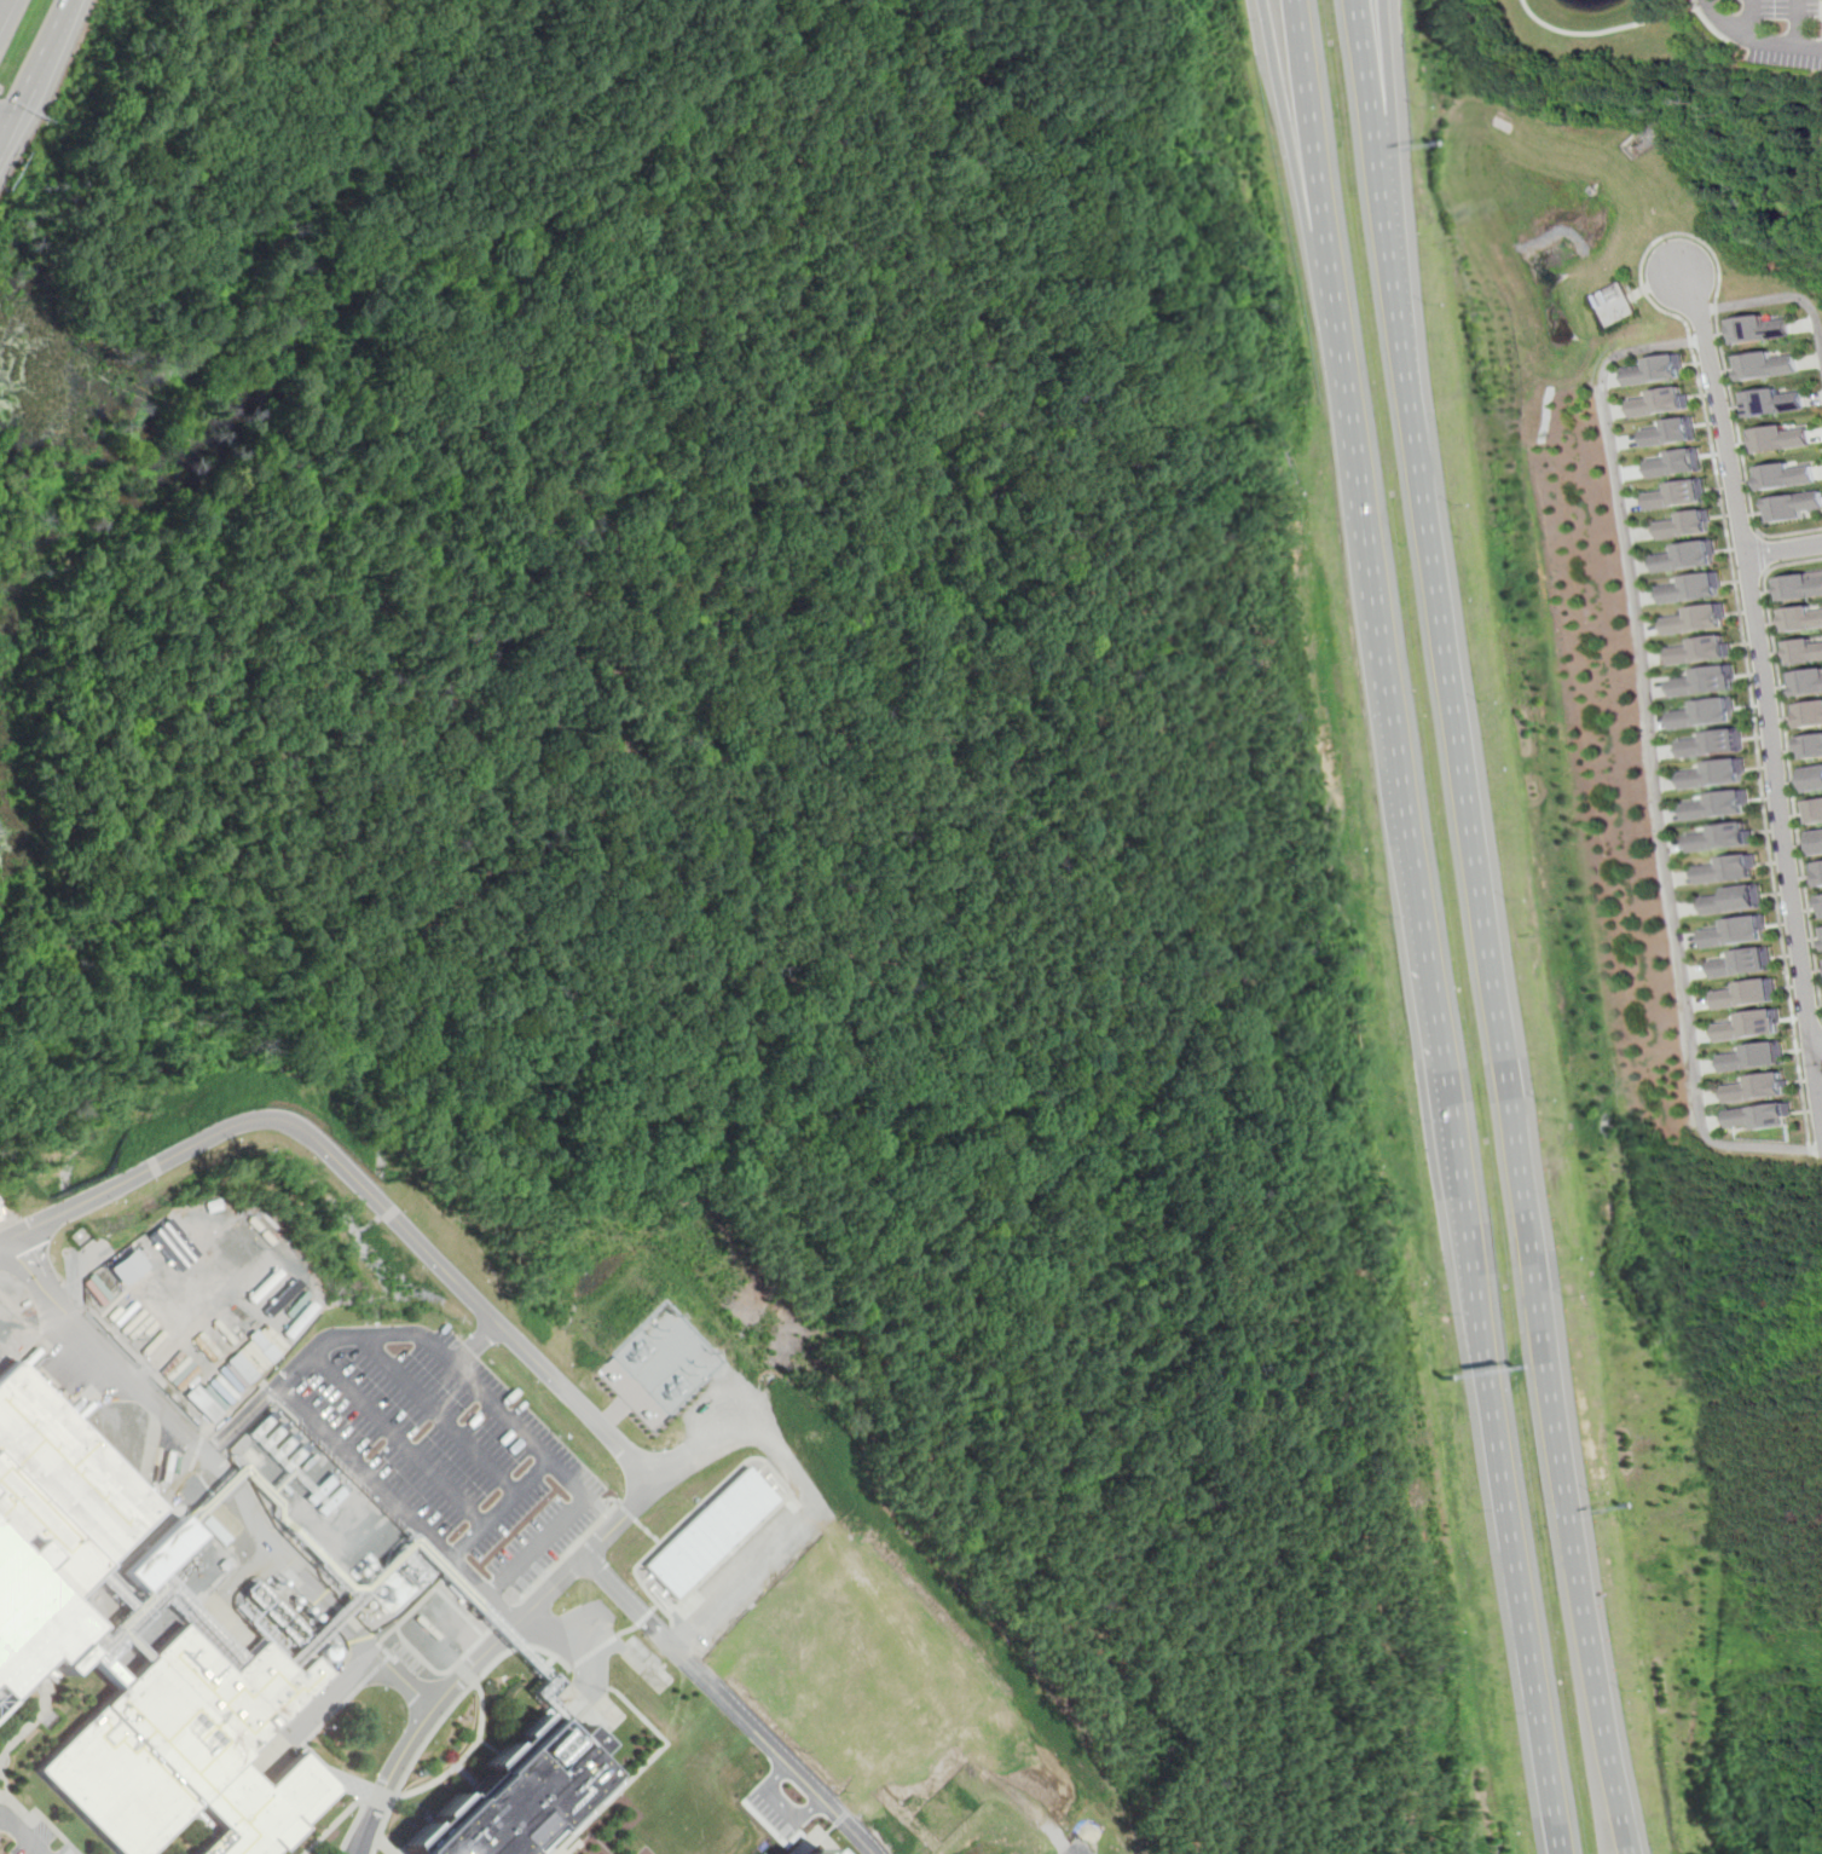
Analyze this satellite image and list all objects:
road: (2, 6)
road: (1724, 18)
road: (1753, 18)
road: (1710, 23)
road: (1798, 23)
parking lot: (1780, 31)
road: (1591, 34)
road: (1780, 45)
parking lot: (1820, 60)
road: (35, 69)
road: (1297, 134)
road: (1313, 134)
road: (1393, 169)
road: (1647, 291)
road: (1768, 302)
building: (1609, 304)
building: (1763, 329)
building: (1768, 365)
building: (1654, 369)
building: (1656, 402)
building: (1776, 402)
building: (1667, 432)
building: (1780, 437)
building: (1671, 462)
road: (1713, 473)
building: (1786, 474)
building: (1672, 493)
building: (1793, 506)
building: (1679, 525)
road: (1781, 547)
road: (1757, 554)
building: (1683, 556)
building: (1798, 585)
building: (1685, 589)
building: (1799, 618)
building: (1691, 619)
building: (1695, 651)
building: (1803, 652)
road: (1392, 672)
building: (1805, 681)
building: (1700, 682)
road: (1760, 692)
building: (1807, 714)
building: (1702, 715)
building: (1710, 744)
building: (1810, 745)
road: (1650, 751)
road: (1785, 758)
building: (1712, 775)
building: (1810, 779)
building: (1718, 807)
building: (1814, 812)
road: (1475, 819)
building: (1722, 838)
building: (1815, 842)
building: (1729, 870)
building: (1820, 872)
building: (1821, 897)
building: (1735, 902)
building: (1737, 932)
building: (1742, 963)
building: (1747, 993)
building: (1751, 1024)
road: (1817, 1042)
building: (1758, 1057)
building: (1759, 1087)
building: (1764, 1116)
road: (372, 1194)
building: (173, 1243)
building: (128, 1265)
road: (40, 1342)
road: (478, 1344)
road: (313, 1351)
road: (441, 1413)
road: (241, 1420)
road: (398, 1438)
parking lot: (447, 1450)
road: (698, 1454)
road: (1506, 1466)
road: (498, 1508)
building: (53, 1521)
road: (266, 1527)
building: (710, 1530)
building: (160, 1552)
road: (526, 1559)
road: (730, 1704)
road: (1614, 1746)
building: (190, 1750)
building: (515, 1795)
road: (785, 1802)
road: (24, 1831)
road: (1087, 1835)
parking lot: (28, 1836)
building: (812, 1848)

